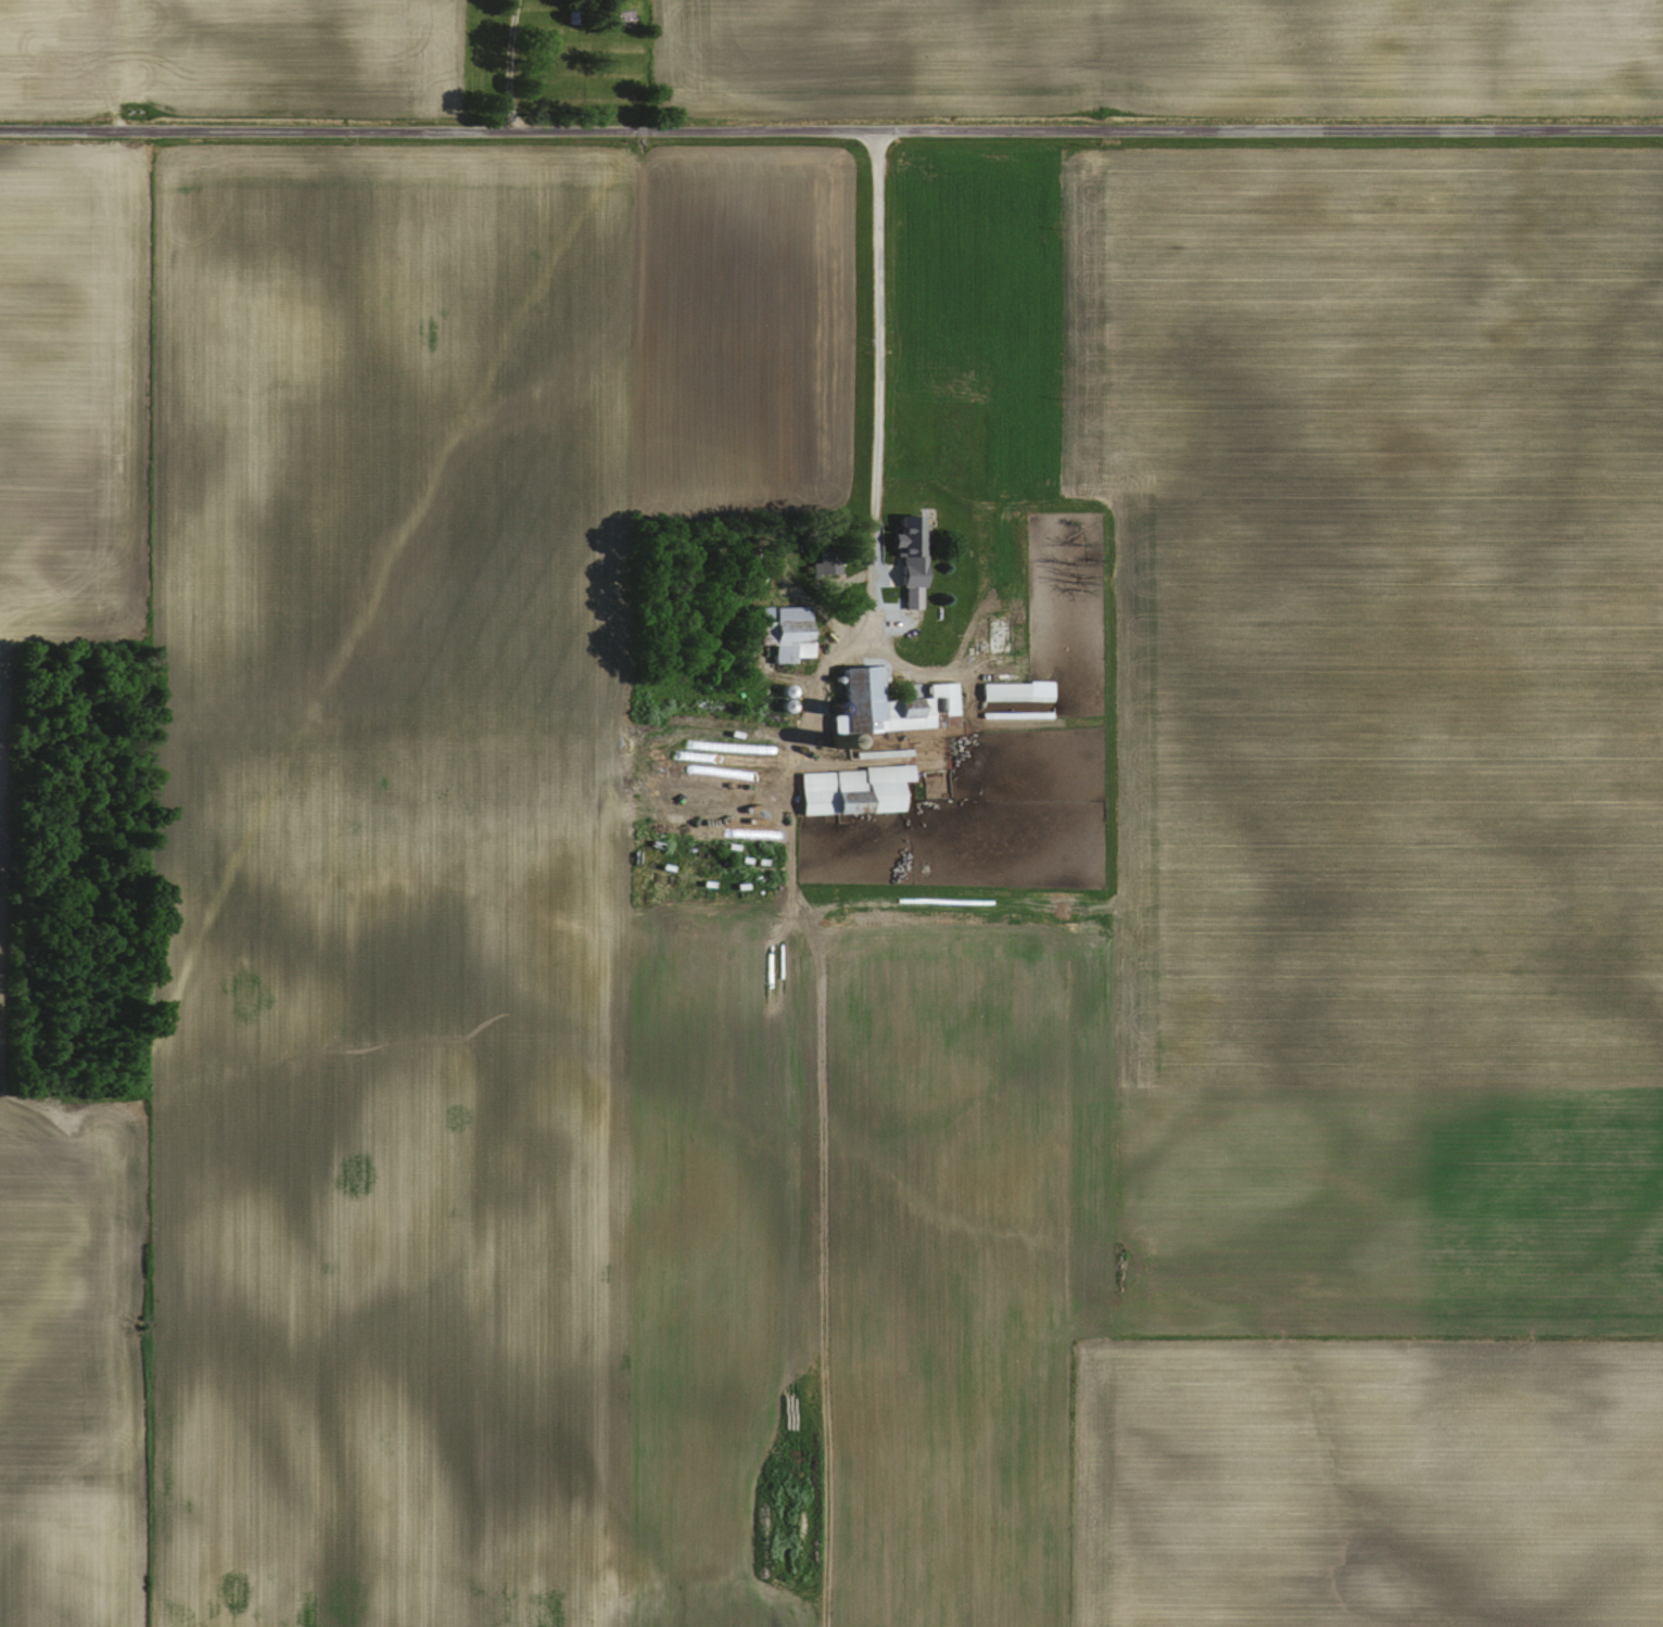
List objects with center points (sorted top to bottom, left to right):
road: (507, 66)
road: (830, 127)
road: (874, 383)
building: (903, 555)
building: (1013, 689)
building: (885, 701)
road: (798, 737)
building: (848, 788)

